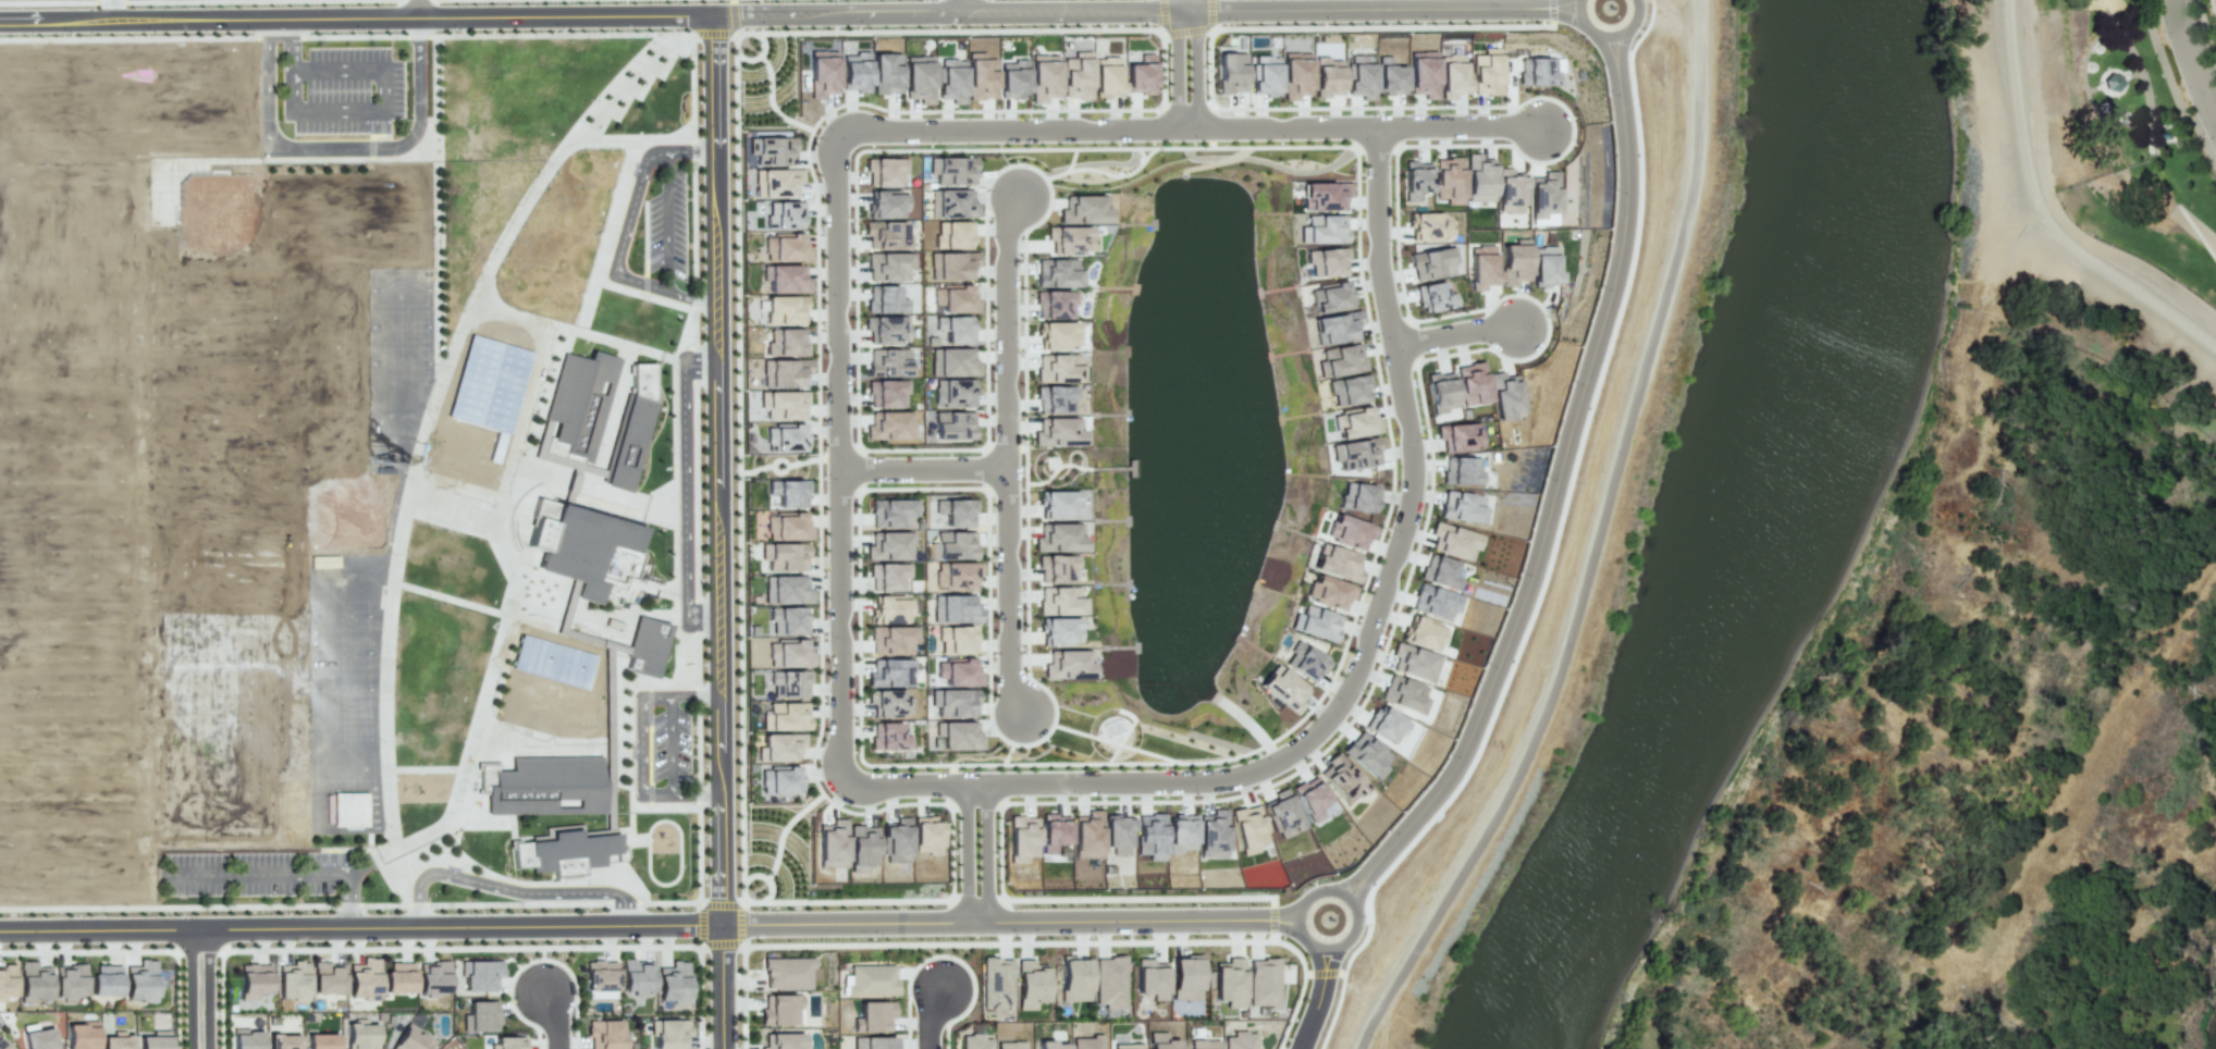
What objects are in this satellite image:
road: (964, 8)
road: (1380, 8)
road: (418, 10)
road: (1551, 12)
road: (948, 15)
road: (1209, 16)
road: (355, 20)
road: (1184, 33)
road: (617, 34)
road: (354, 35)
road: (418, 35)
road: (1160, 35)
road: (130, 36)
road: (279, 36)
road: (1608, 38)
road: (291, 45)
road: (759, 55)
road: (2192, 61)
road: (1186, 71)
building: (854, 72)
building: (1231, 72)
building: (1538, 72)
building: (1486, 73)
building: (822, 74)
building: (886, 74)
building: (1423, 74)
building: (1076, 75)
building: (1140, 75)
building: (1265, 75)
building: (1295, 75)
building: (1452, 75)
building: (980, 76)
building: (1361, 76)
building: (1043, 77)
building: (1107, 77)
building: (1327, 77)
building: (1390, 77)
building: (919, 78)
park: (2130, 78)
building: (950, 79)
building: (1012, 79)
building: (2113, 82)
road: (770, 103)
road: (379, 106)
road: (1460, 127)
road: (1282, 129)
road: (1009, 132)
road: (341, 147)
building: (771, 149)
building: (950, 169)
building: (885, 171)
building: (1479, 177)
building: (1449, 180)
building: (776, 182)
building: (1414, 182)
building: (1510, 192)
building: (1542, 195)
building: (1325, 196)
building: (886, 203)
building: (951, 203)
building: (1084, 209)
road: (2043, 209)
building: (784, 214)
road: (667, 220)
parking lot: (657, 223)
road: (693, 223)
building: (1428, 226)
building: (1322, 230)
road: (625, 232)
building: (952, 234)
building: (886, 235)
building: (1068, 239)
building: (1327, 261)
building: (1431, 261)
building: (1515, 262)
building: (889, 266)
building: (951, 266)
building: (1546, 266)
building: (1482, 267)
building: (1057, 273)
building: (785, 279)
building: (1330, 297)
building: (1433, 297)
building: (955, 298)
building: (885, 299)
building: (1054, 304)
building: (785, 310)
road: (1406, 317)
road: (693, 322)
building: (1335, 328)
building: (886, 329)
building: (955, 329)
road: (1006, 331)
building: (1057, 334)
road: (1455, 335)
building: (786, 342)
building: (1339, 360)
building: (887, 362)
building: (955, 362)
building: (1058, 368)
building: (784, 372)
building: (1473, 383)
building: (488, 388)
building: (1349, 390)
building: (1441, 391)
building: (952, 393)
building: (886, 394)
building: (1504, 395)
building: (1055, 399)
building: (582, 402)
building: (783, 405)
building: (1355, 422)
building: (953, 424)
building: (889, 425)
building: (632, 428)
building: (1057, 431)
building: (1460, 436)
building: (784, 437)
building: (1355, 452)
road: (778, 460)
road: (716, 468)
road: (921, 468)
road: (777, 470)
building: (1462, 470)
road: (1554, 489)
road: (695, 491)
building: (788, 492)
building: (1357, 497)
building: (1462, 507)
building: (956, 511)
building: (890, 513)
building: (787, 527)
road: (835, 529)
building: (1350, 532)
building: (1058, 538)
building: (1453, 541)
road: (1590, 543)
building: (888, 545)
building: (953, 545)
river: (1736, 551)
building: (591, 553)
building: (784, 556)
building: (1335, 563)
building: (1056, 568)
building: (1441, 572)
building: (956, 575)
building: (886, 576)
building: (786, 590)
road: (1010, 591)
building: (1330, 591)
building: (1060, 601)
building: (1436, 602)
building: (955, 608)
building: (891, 609)
road: (1375, 610)
building: (787, 620)
building: (1316, 622)
building: (1059, 630)
building: (1423, 633)
building: (892, 639)
building: (956, 640)
building: (647, 645)
building: (788, 654)
building: (552, 662)
building: (1305, 662)
building: (1414, 662)
road: (697, 663)
building: (1068, 664)
building: (958, 671)
building: (889, 672)
building: (789, 684)
building: (1284, 690)
building: (1404, 693)
building: (889, 702)
building: (956, 703)
building: (786, 717)
building: (1386, 725)
building: (957, 736)
building: (888, 737)
park: (1117, 739)
road: (642, 743)
parking lot: (665, 743)
road: (672, 744)
road: (698, 744)
building: (780, 746)
building: (1367, 755)
building: (1341, 778)
building: (779, 780)
building: (545, 785)
building: (1310, 798)
building: (348, 809)
building: (1282, 814)
building: (561, 829)
building: (1247, 829)
road: (784, 830)
building: (1054, 831)
building: (1118, 834)
building: (1181, 834)
building: (1212, 834)
building: (1086, 835)
building: (926, 836)
building: (1152, 837)
building: (1021, 839)
building: (896, 841)
building: (832, 843)
building: (862, 848)
building: (565, 851)
road: (978, 852)
road: (297, 867)
parking lot: (266, 873)
road: (699, 876)
road: (764, 877)
road: (1324, 886)
road: (510, 889)
road: (1025, 899)
road: (525, 901)
road: (384, 903)
road: (740, 903)
road: (278, 904)
road: (99, 906)
road: (1273, 916)
road: (702, 918)
road: (1009, 920)
road: (360, 925)
road: (1023, 941)
road: (721, 942)
road: (463, 947)
road: (135, 950)
road: (947, 954)
road: (1352, 955)
road: (535, 959)
building: (788, 972)
road: (1325, 973)
building: (480, 975)
building: (636, 976)
building: (398, 977)
building: (327, 978)
building: (431, 978)
building: (871, 978)
building: (1073, 978)
building: (1185, 978)
building: (364, 979)
building: (600, 979)
building: (1150, 979)
building: (7, 980)
building: (104, 980)
building: (139, 980)
building: (254, 980)
building: (293, 980)
building: (33, 982)
building: (69, 982)
building: (1263, 982)
building: (674, 983)
building: (1109, 983)
building: (1230, 983)
building: (995, 984)
building: (1030, 984)
road: (722, 986)
road: (202, 987)
road: (186, 988)
road: (1318, 998)
building: (781, 1009)
building: (481, 1016)
building: (873, 1016)
road: (554, 1019)
road: (931, 1021)
building: (668, 1033)
building: (604, 1034)
building: (79, 1035)
building: (360, 1036)
building: (39, 1038)
building: (409, 1039)
building: (114, 1040)
building: (153, 1040)
building: (246, 1040)
building: (282, 1040)
building: (320, 1040)
building: (1241, 1040)
building: (781, 1041)
building: (1161, 1041)
building: (508, 1042)
building: (872, 1042)
building: (977, 1042)
building: (1088, 1042)
building: (1205, 1044)
building: (3, 1046)
building: (1012, 1046)
building: (1051, 1046)
building: (1129, 1046)

